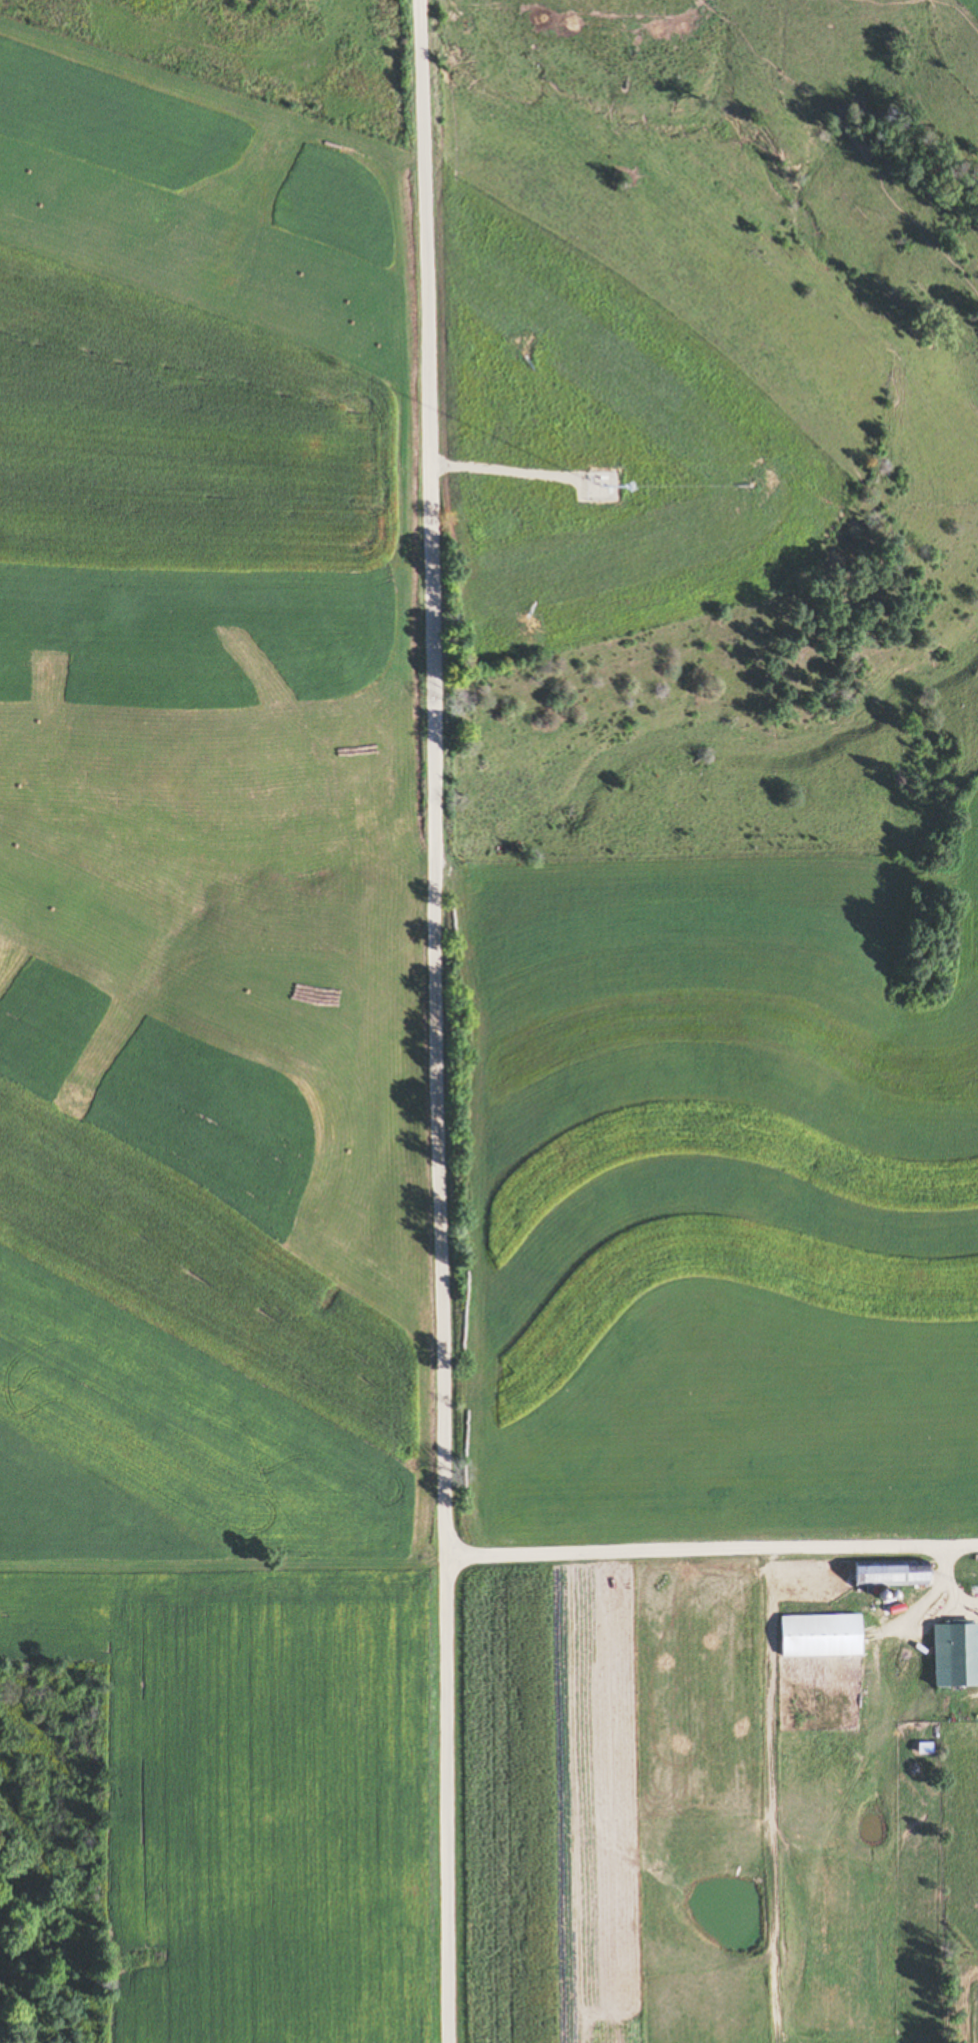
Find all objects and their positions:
crop: (956, 36)
crop: (204, 346)
crop: (590, 444)
road: (432, 1021)
crop: (709, 1206)
crop: (200, 1211)
road: (711, 1549)
building: (968, 1568)
building: (885, 1573)
road: (947, 1584)
building: (794, 1633)
building: (959, 1655)
crop: (261, 1788)
crop: (685, 1820)

